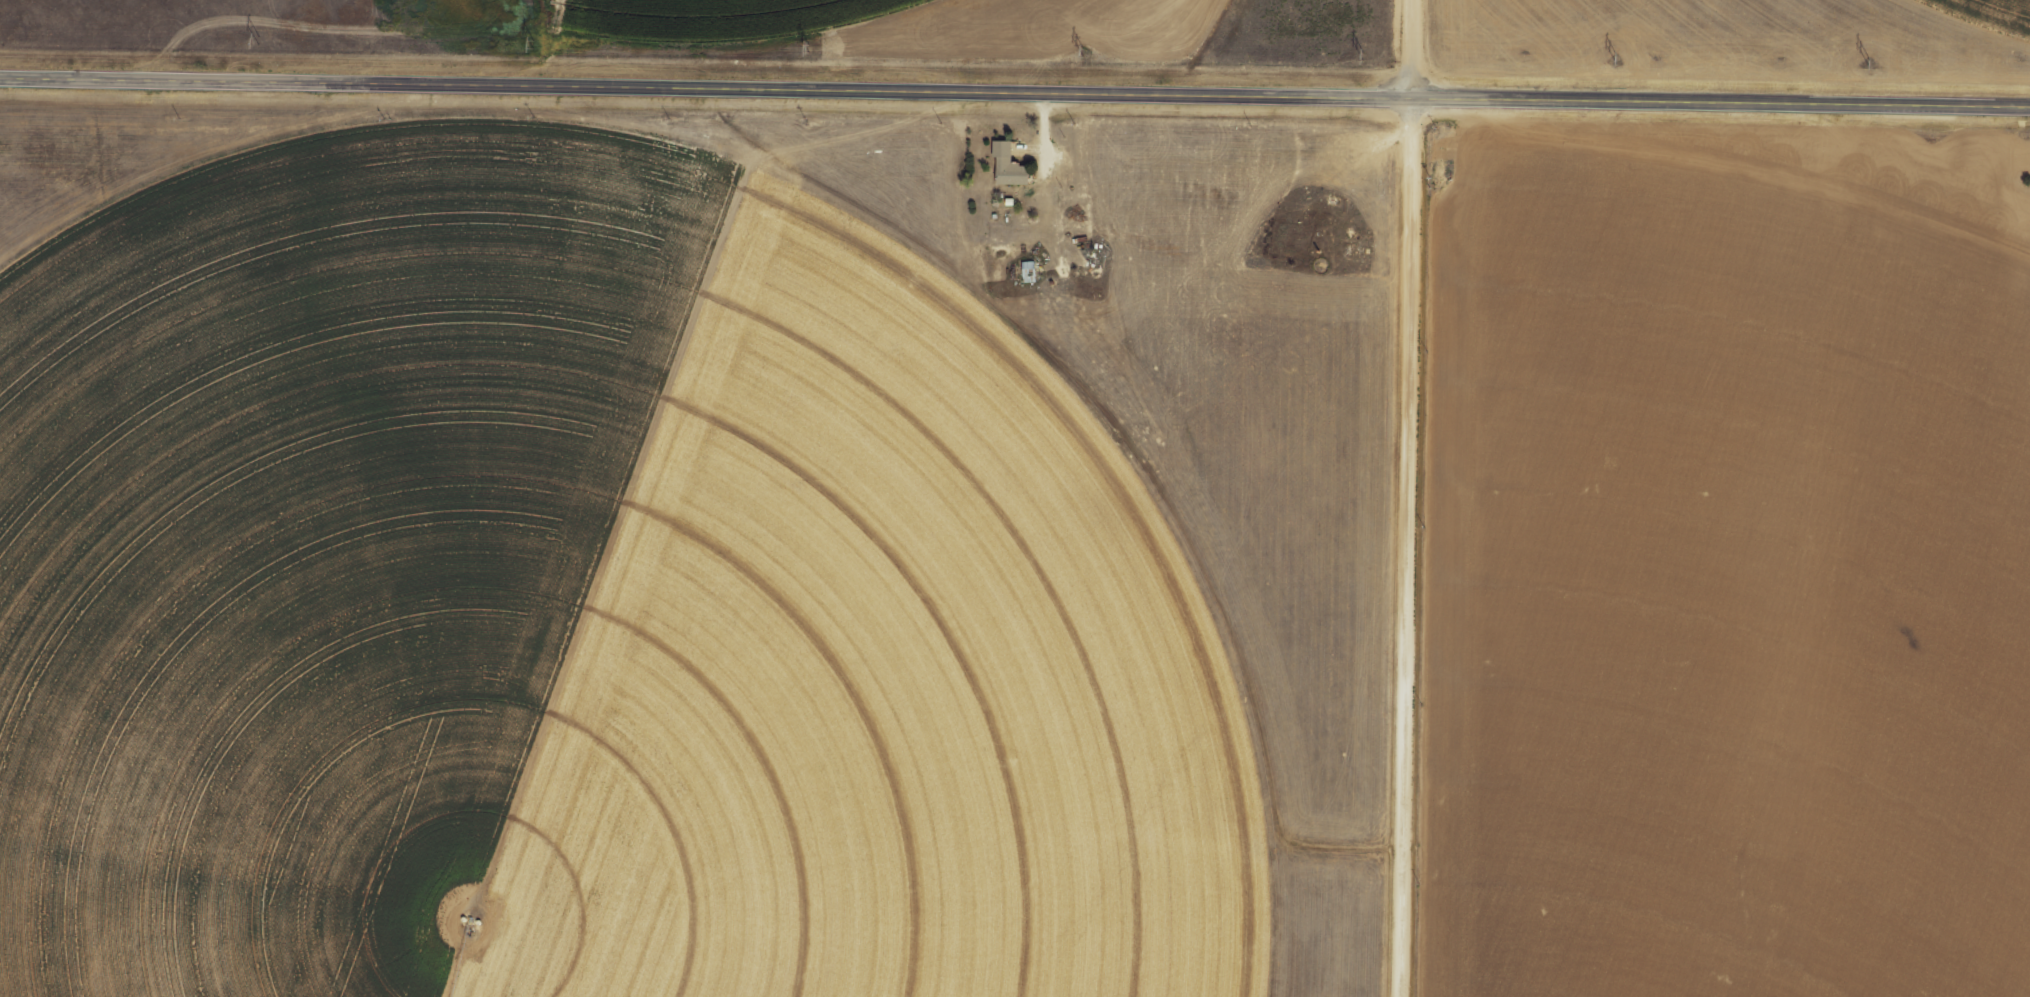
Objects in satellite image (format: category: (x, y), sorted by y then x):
road: (1014, 96)
road: (1413, 498)

